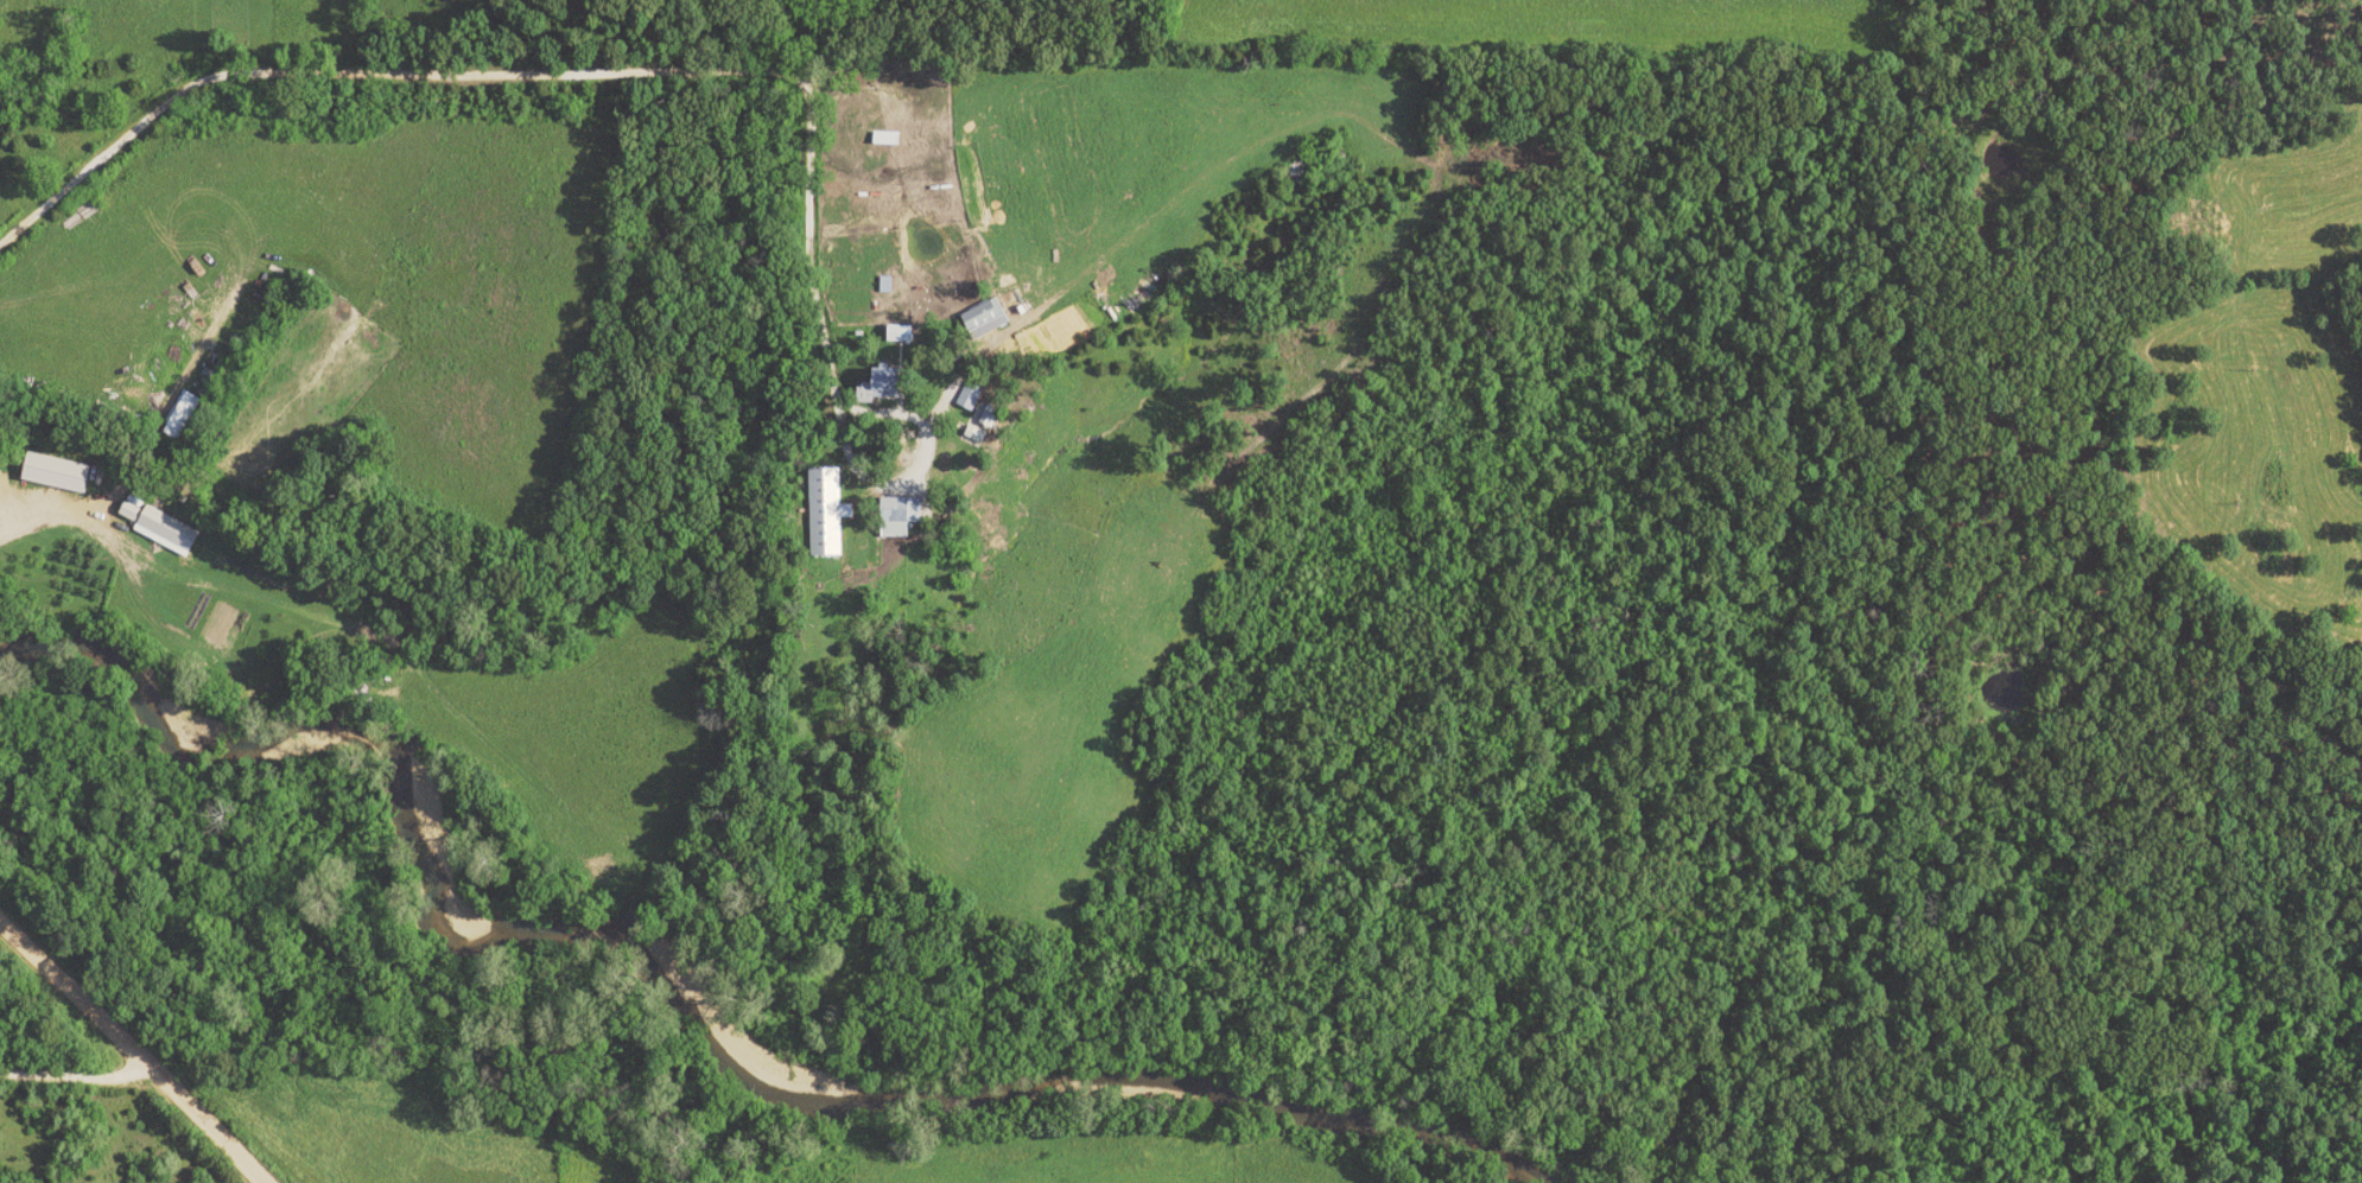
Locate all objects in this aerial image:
road: (582, 78)
building: (980, 319)
building: (897, 335)
building: (868, 386)
building: (967, 396)
building: (55, 473)
building: (825, 513)
road: (47, 516)
building: (894, 516)
building: (160, 527)
road: (129, 1052)
road: (80, 1083)

